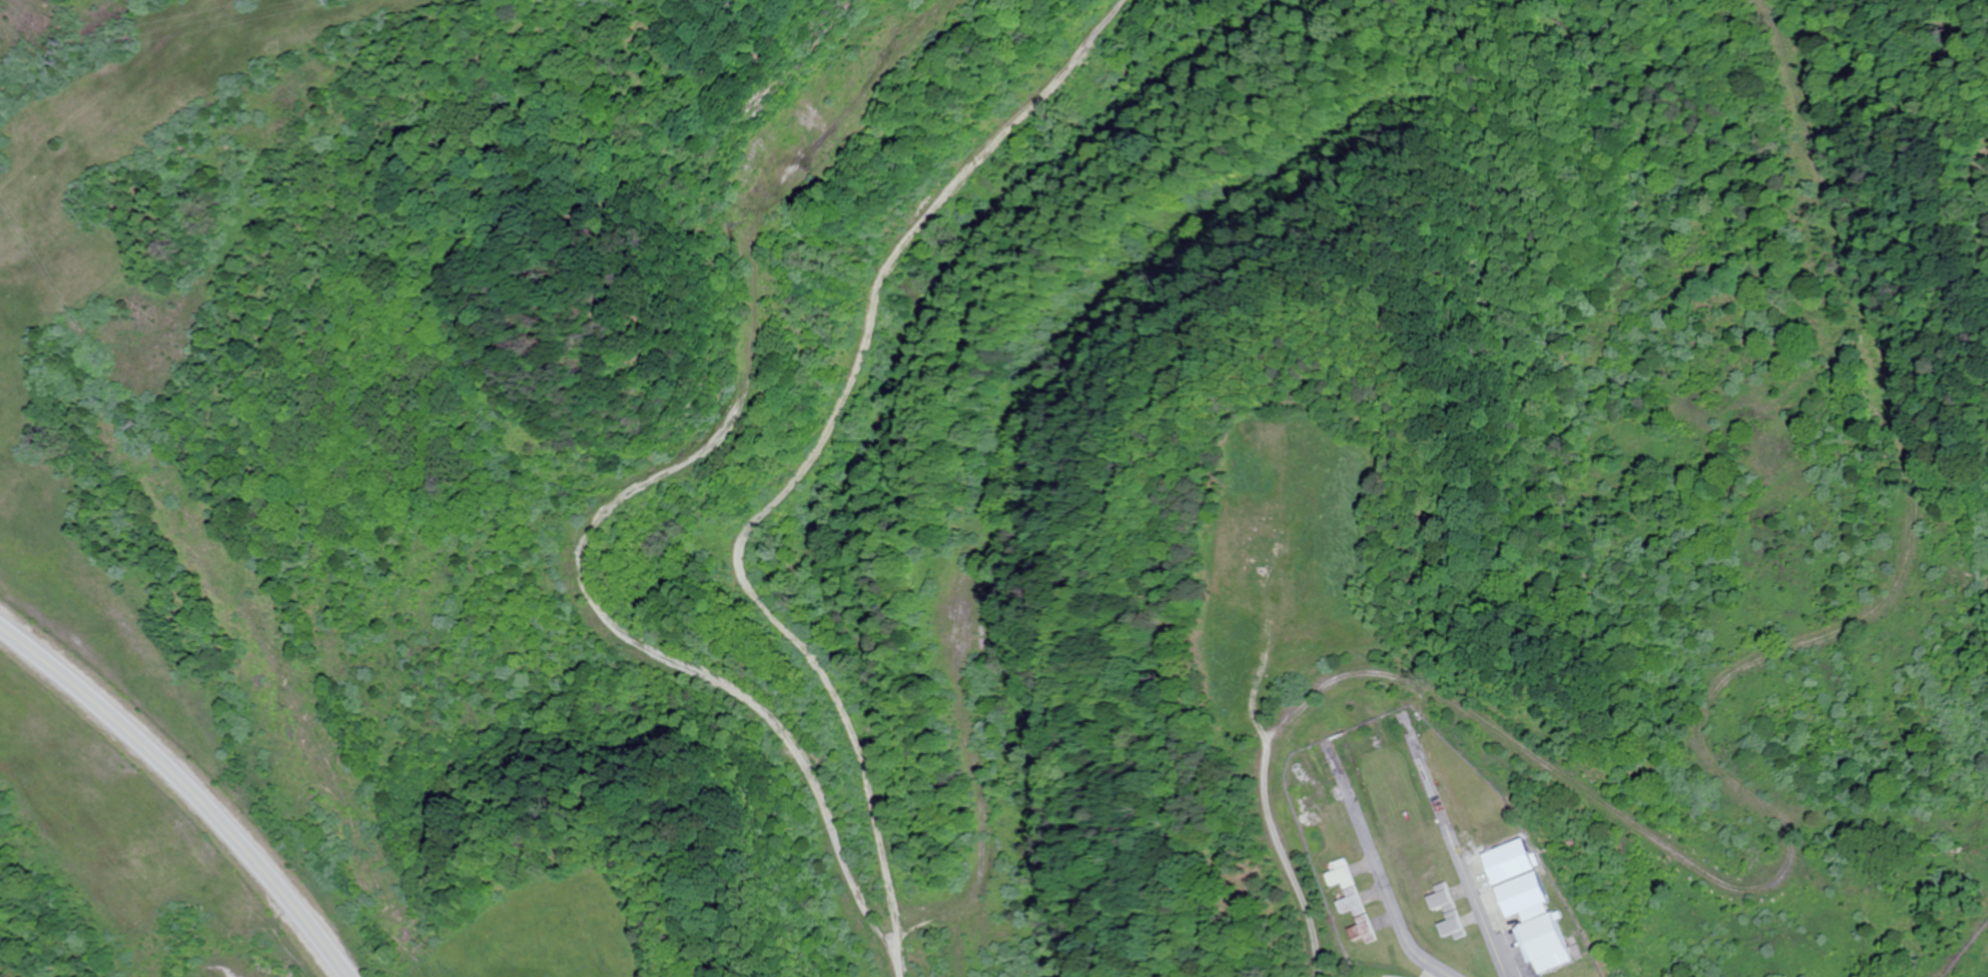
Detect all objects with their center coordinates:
road: (189, 786)
airport: (1428, 859)
airport taxiway: (1467, 869)
airport taxiway: (1381, 878)
building: (1345, 889)
building: (1447, 913)
building: (1530, 919)
building: (1362, 931)
airport: (1973, 959)

